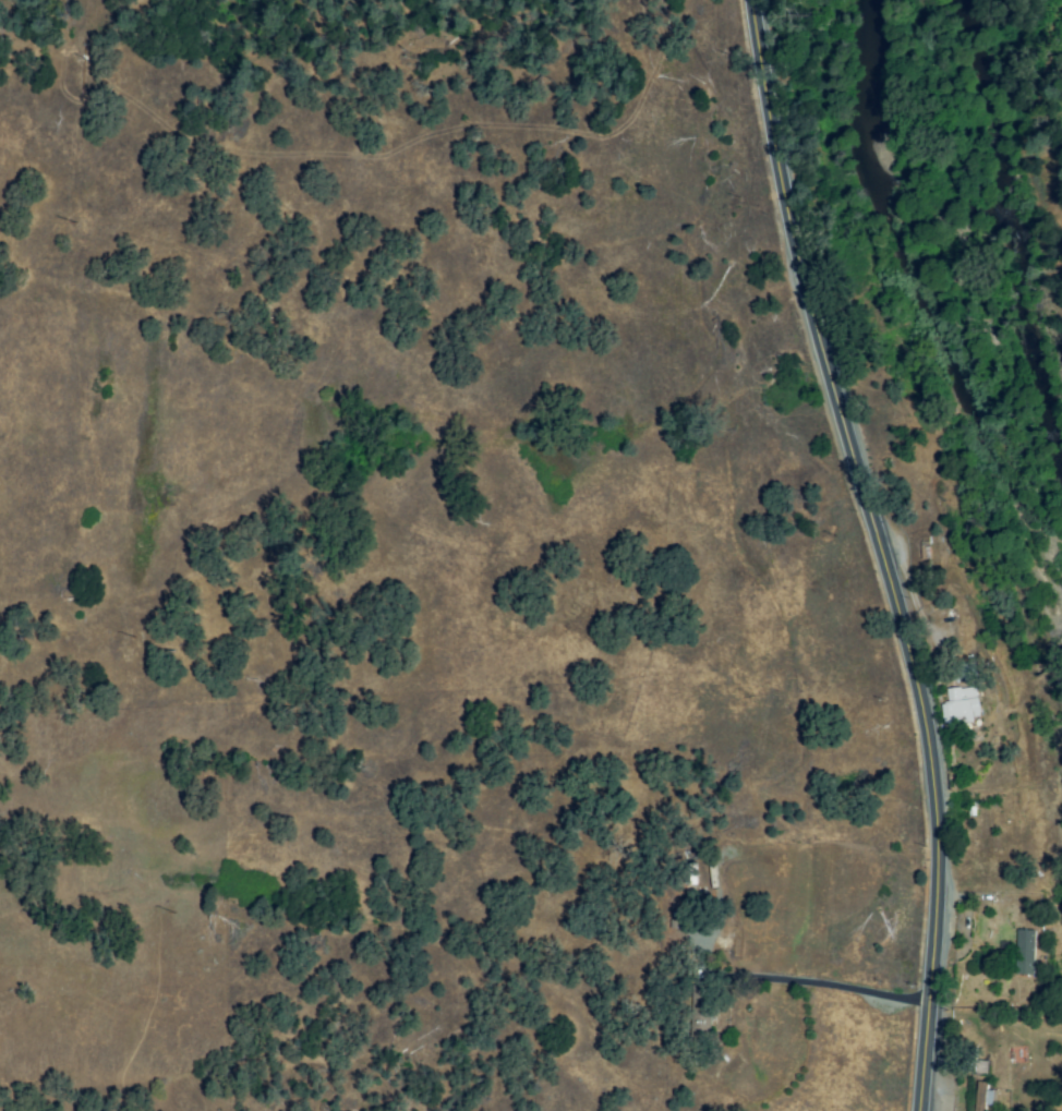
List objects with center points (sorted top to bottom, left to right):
river: (913, 277)
road: (879, 551)
building: (962, 705)
building: (1025, 952)
road: (822, 983)
building: (982, 1096)

